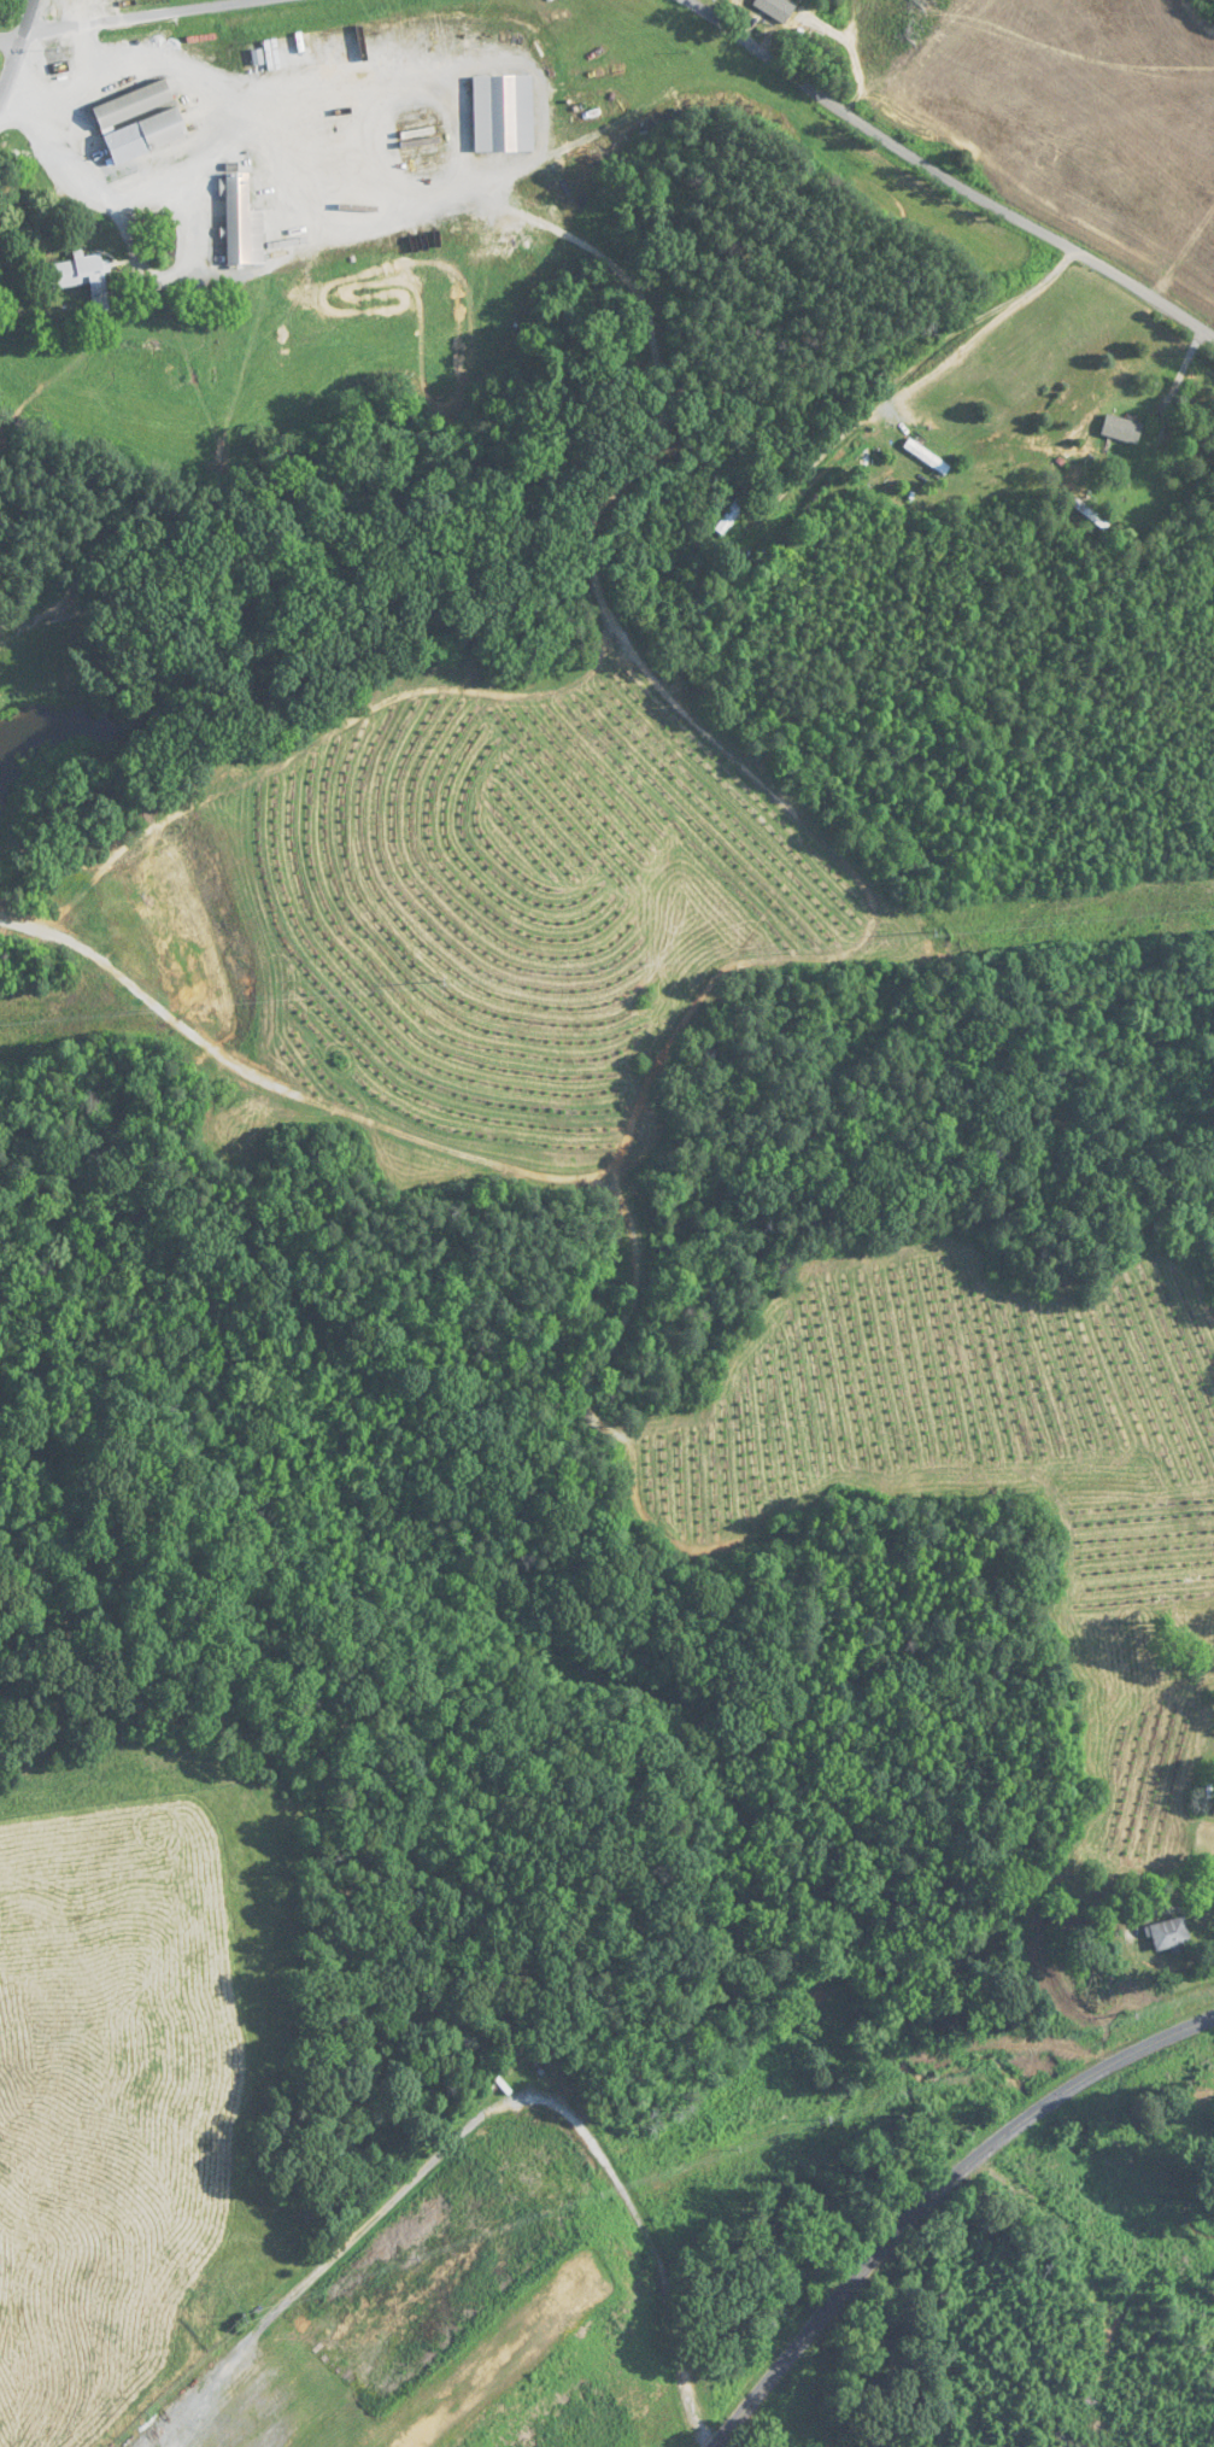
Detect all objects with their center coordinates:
road: (117, 18)
road: (16, 46)
road: (66, 89)
building: (133, 105)
building: (503, 113)
building: (157, 137)
road: (201, 158)
road: (949, 172)
building: (242, 223)
road: (170, 273)
building: (82, 279)
road: (779, 289)
road: (922, 356)
building: (1118, 434)
building: (927, 457)
building: (1169, 1934)
building: (517, 2045)
road: (473, 2114)
road: (939, 2200)

